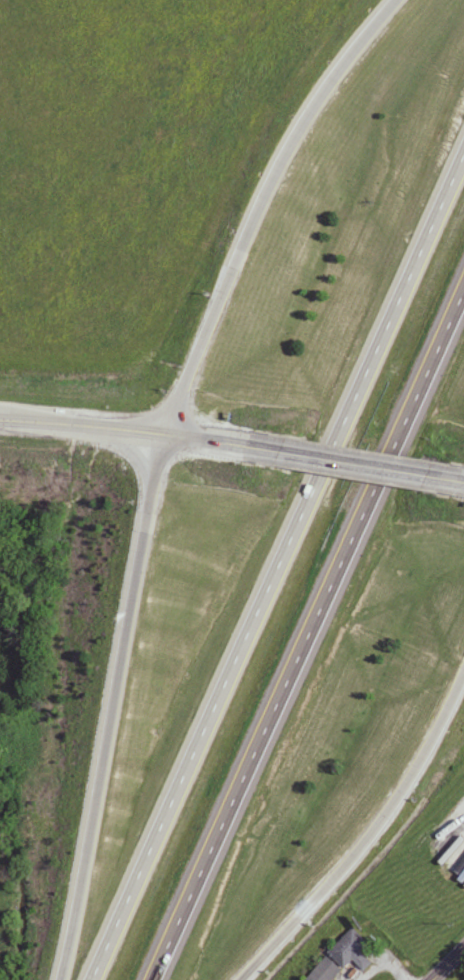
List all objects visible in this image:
road: (190, 169)
road: (259, 212)
road: (81, 440)
road: (222, 454)
road: (361, 474)
road: (452, 489)
road: (280, 569)
road: (310, 640)
road: (112, 714)
road: (369, 841)
building: (352, 952)
road: (449, 965)
building: (326, 971)

